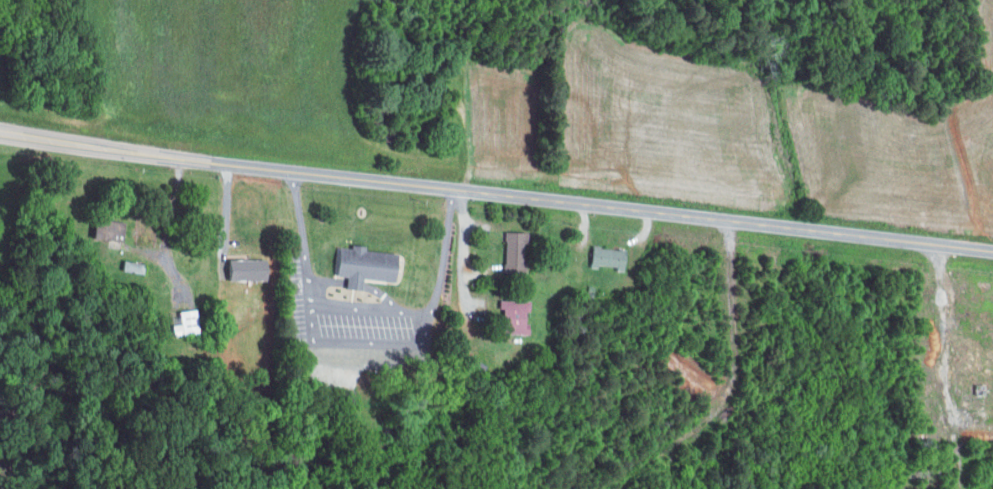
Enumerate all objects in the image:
road: (496, 193)
road: (308, 208)
building: (101, 230)
building: (510, 243)
road: (456, 252)
building: (602, 257)
building: (370, 265)
building: (128, 267)
road: (333, 280)
road: (360, 282)
road: (391, 293)
building: (507, 317)
building: (181, 323)
road: (409, 344)

